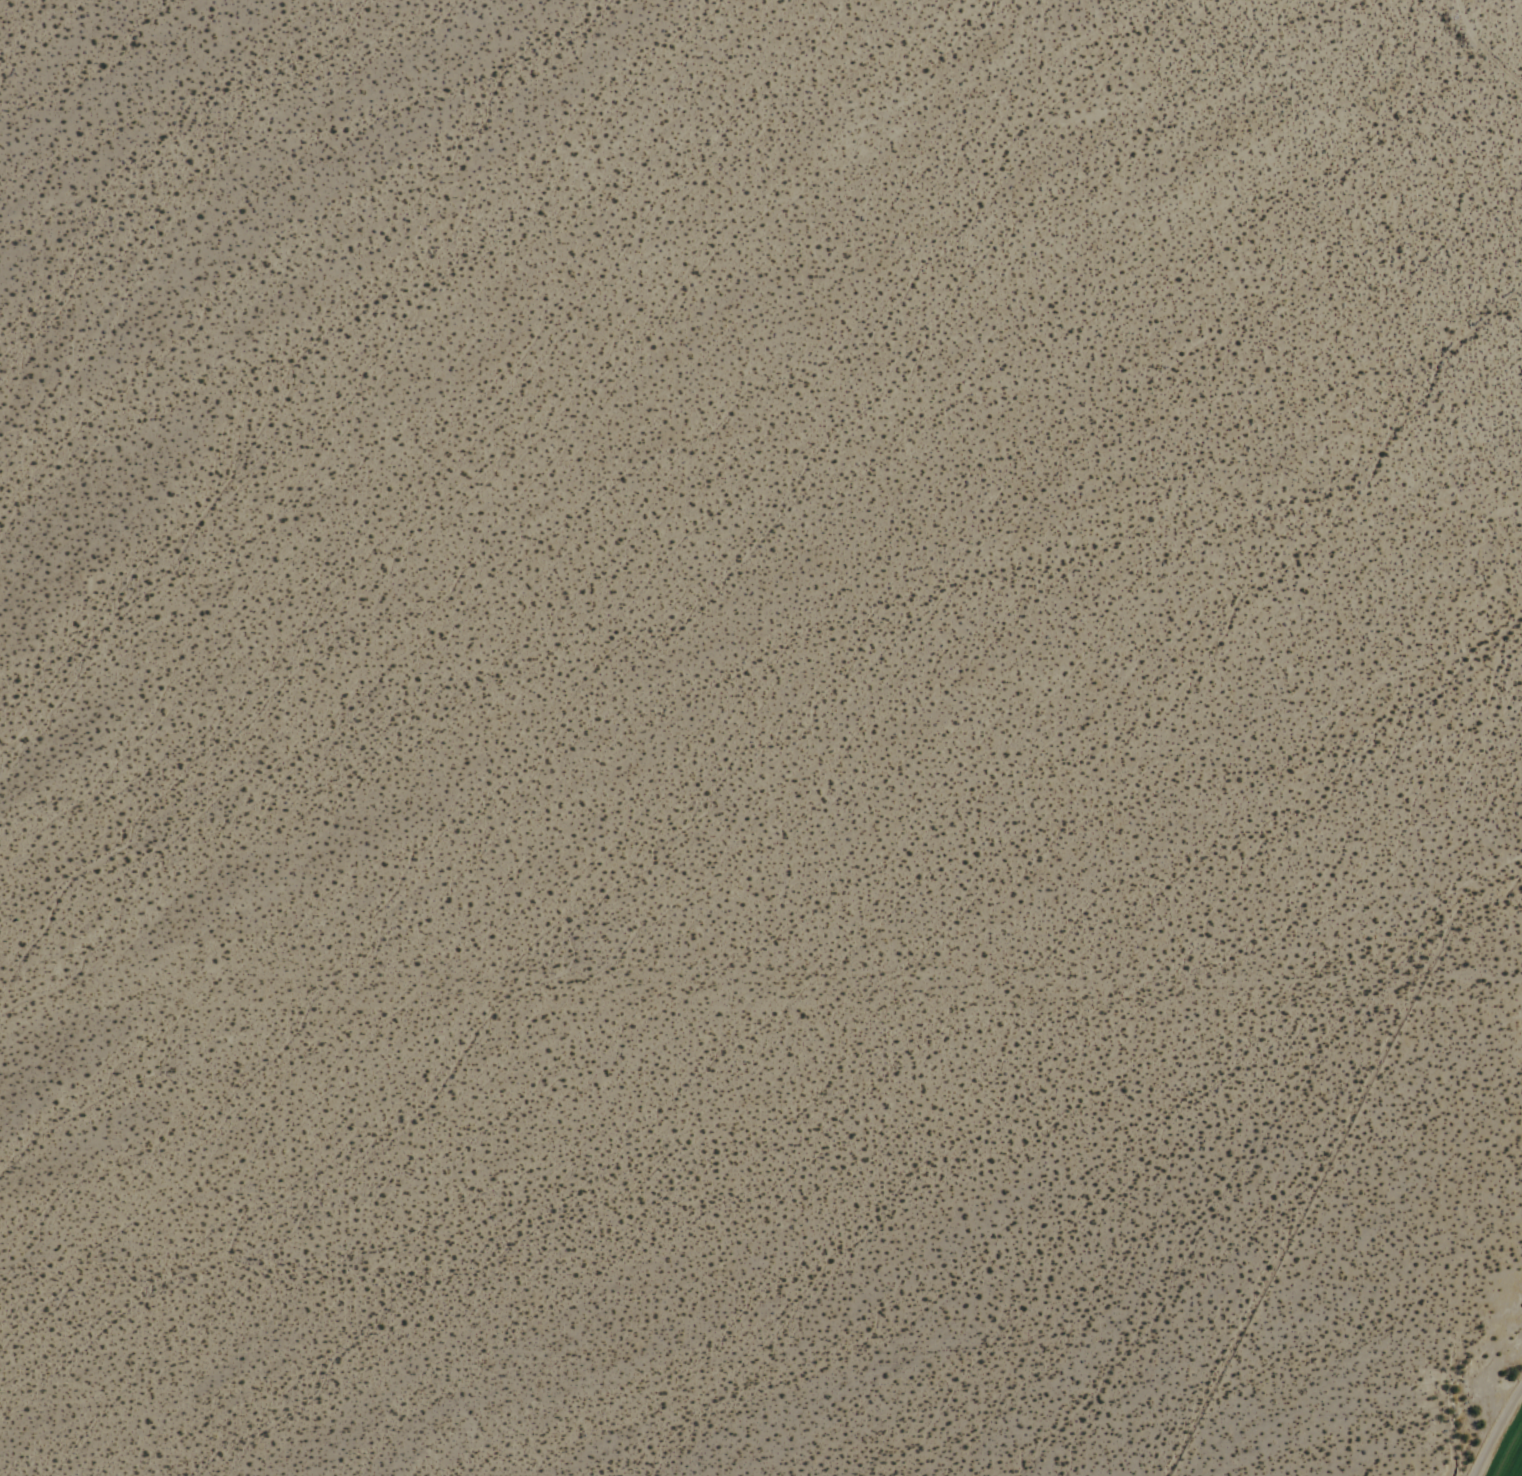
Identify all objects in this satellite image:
crop: (1497, 1430)

